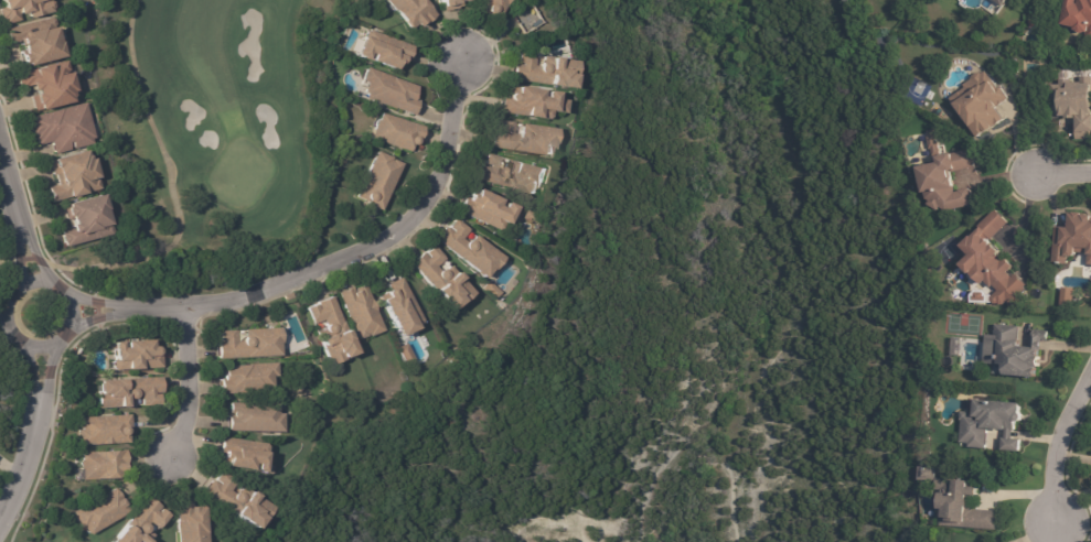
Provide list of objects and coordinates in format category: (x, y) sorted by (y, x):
building: (1001, 2)
building: (450, 4)
building: (490, 6)
building: (21, 8)
building: (409, 11)
building: (1079, 17)
building: (527, 19)
building: (31, 39)
building: (381, 51)
building: (544, 71)
building: (45, 85)
building: (389, 93)
building: (532, 104)
building: (980, 105)
building: (1073, 105)
building: (61, 128)
building: (395, 133)
park: (208, 135)
building: (522, 139)
building: (933, 143)
building: (72, 176)
building: (512, 176)
road: (1060, 176)
road: (9, 180)
building: (375, 181)
building: (946, 183)
building: (484, 209)
road: (19, 219)
building: (83, 219)
building: (1072, 240)
building: (467, 250)
road: (365, 251)
building: (993, 264)
building: (438, 279)
building: (489, 290)
building: (1066, 296)
building: (287, 297)
building: (980, 299)
building: (398, 308)
road: (133, 310)
building: (357, 313)
road: (78, 319)
building: (330, 330)
building: (246, 345)
building: (1014, 353)
building: (132, 357)
building: (246, 379)
road: (186, 386)
building: (127, 393)
road: (41, 394)
building: (252, 419)
building: (990, 425)
building: (100, 431)
road: (1063, 454)
building: (239, 456)
road: (25, 458)
building: (99, 466)
building: (234, 501)
building: (962, 508)
building: (98, 512)
building: (140, 523)
building: (190, 524)
road: (1059, 533)

